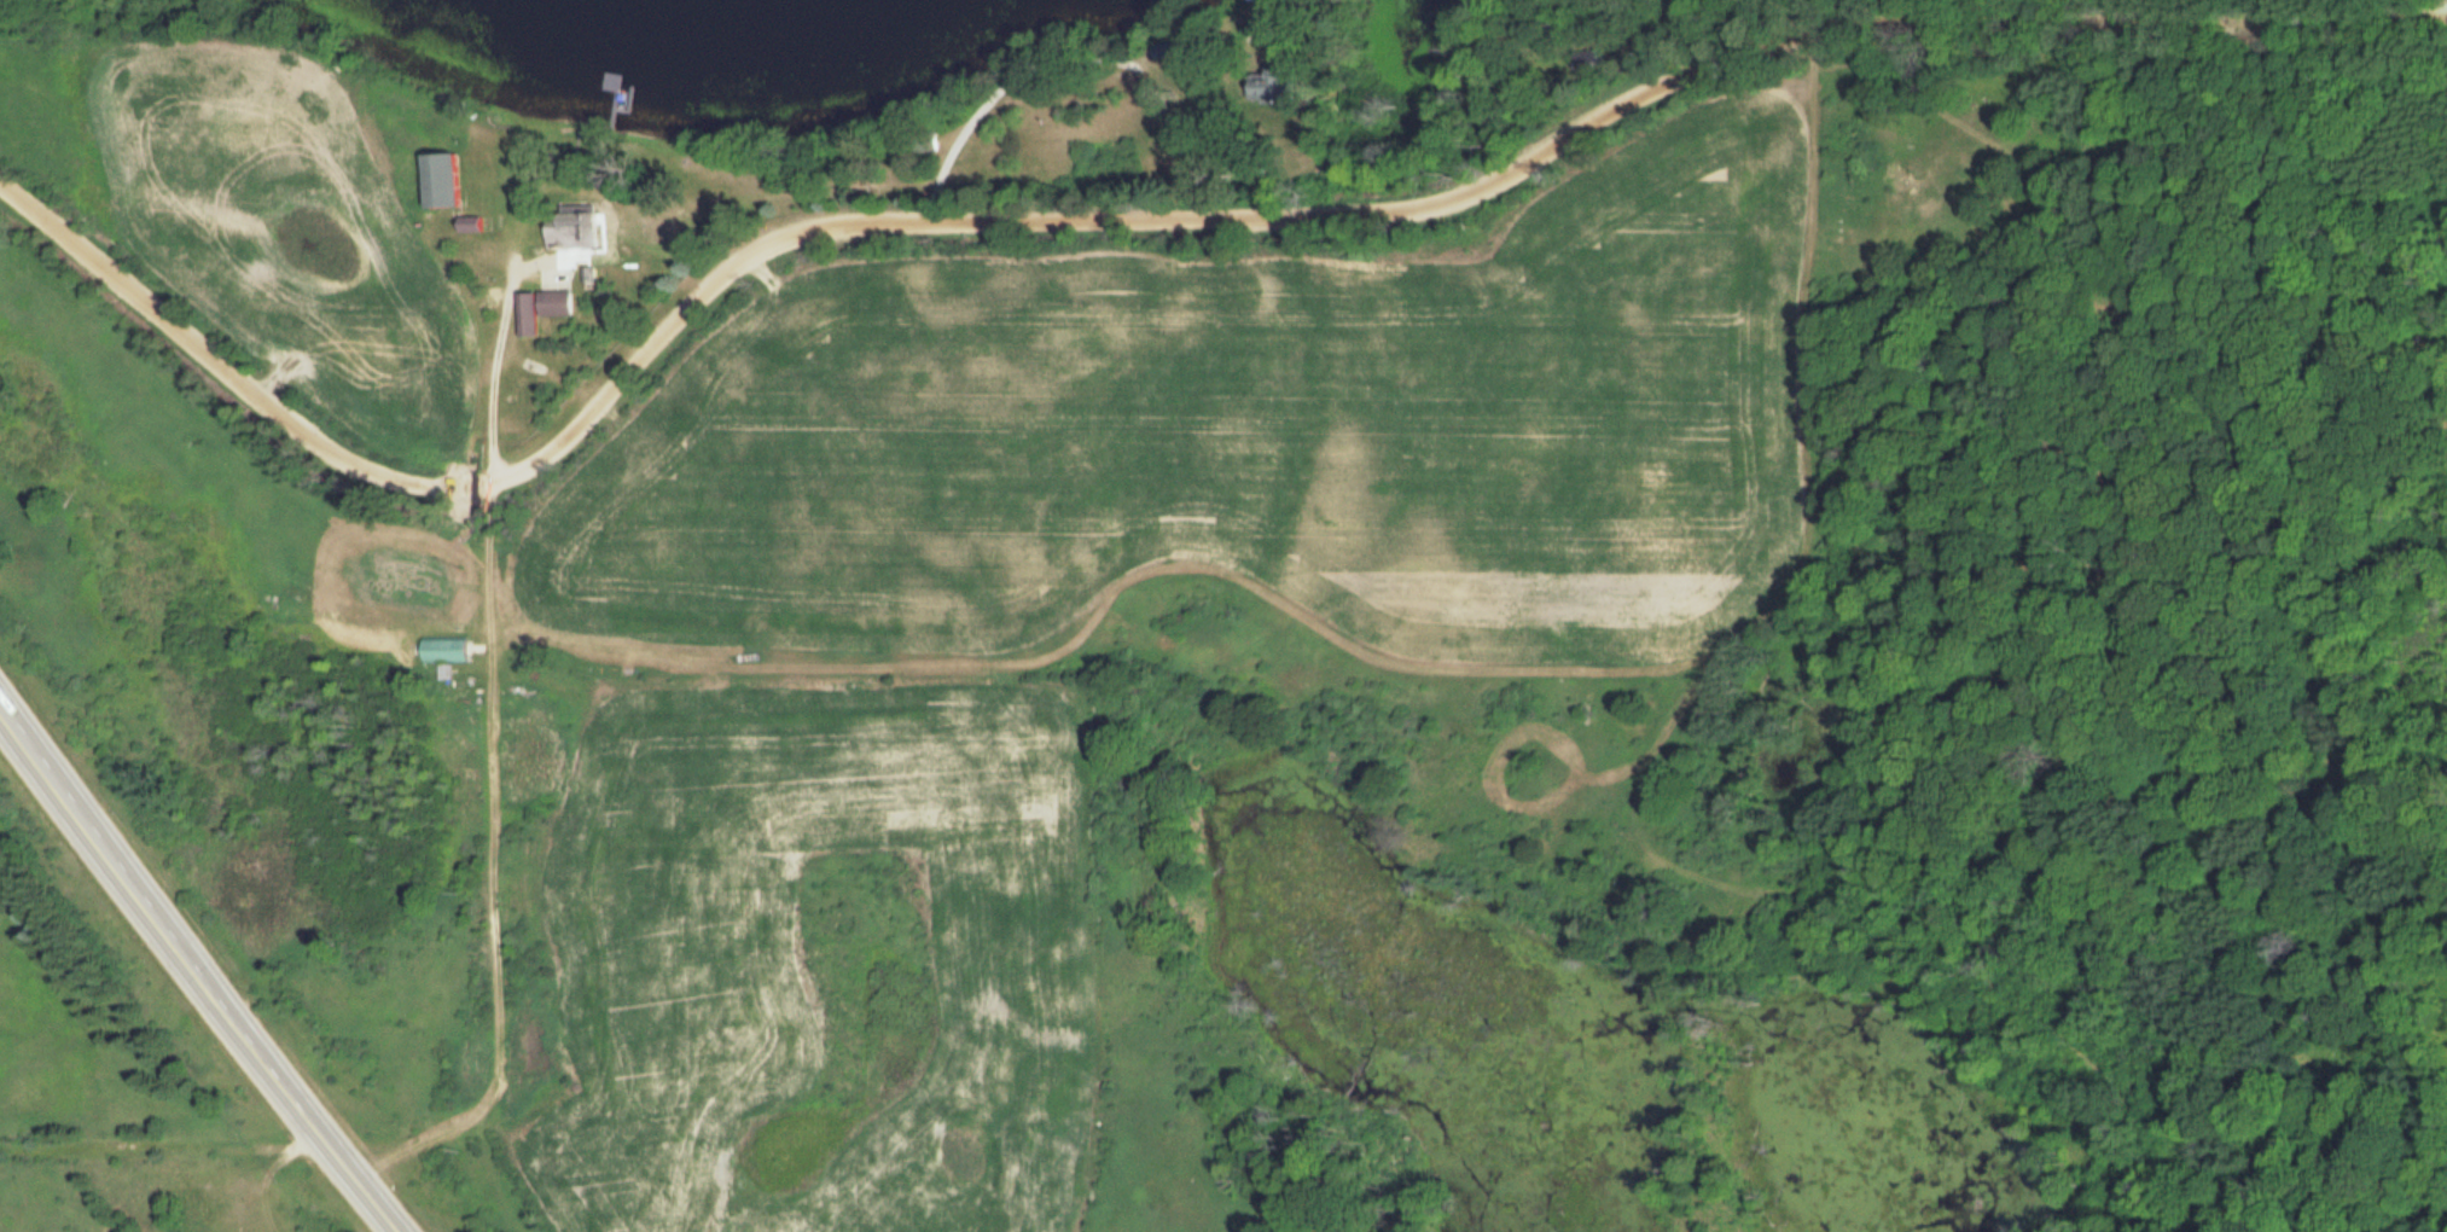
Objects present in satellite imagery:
road: (1716, 29)
building: (1585, 60)
building: (1260, 86)
building: (436, 181)
road: (1146, 214)
building: (566, 226)
building: (539, 308)
building: (441, 650)
road: (202, 966)

